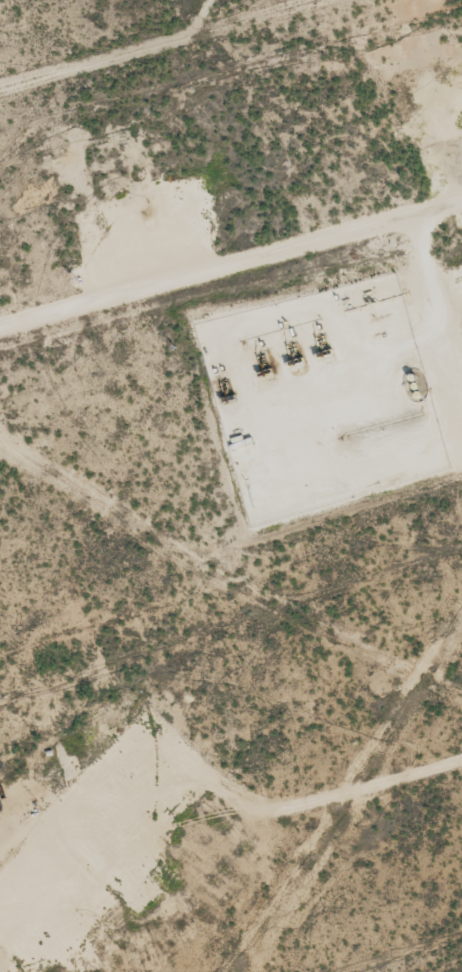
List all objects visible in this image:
road: (231, 252)

